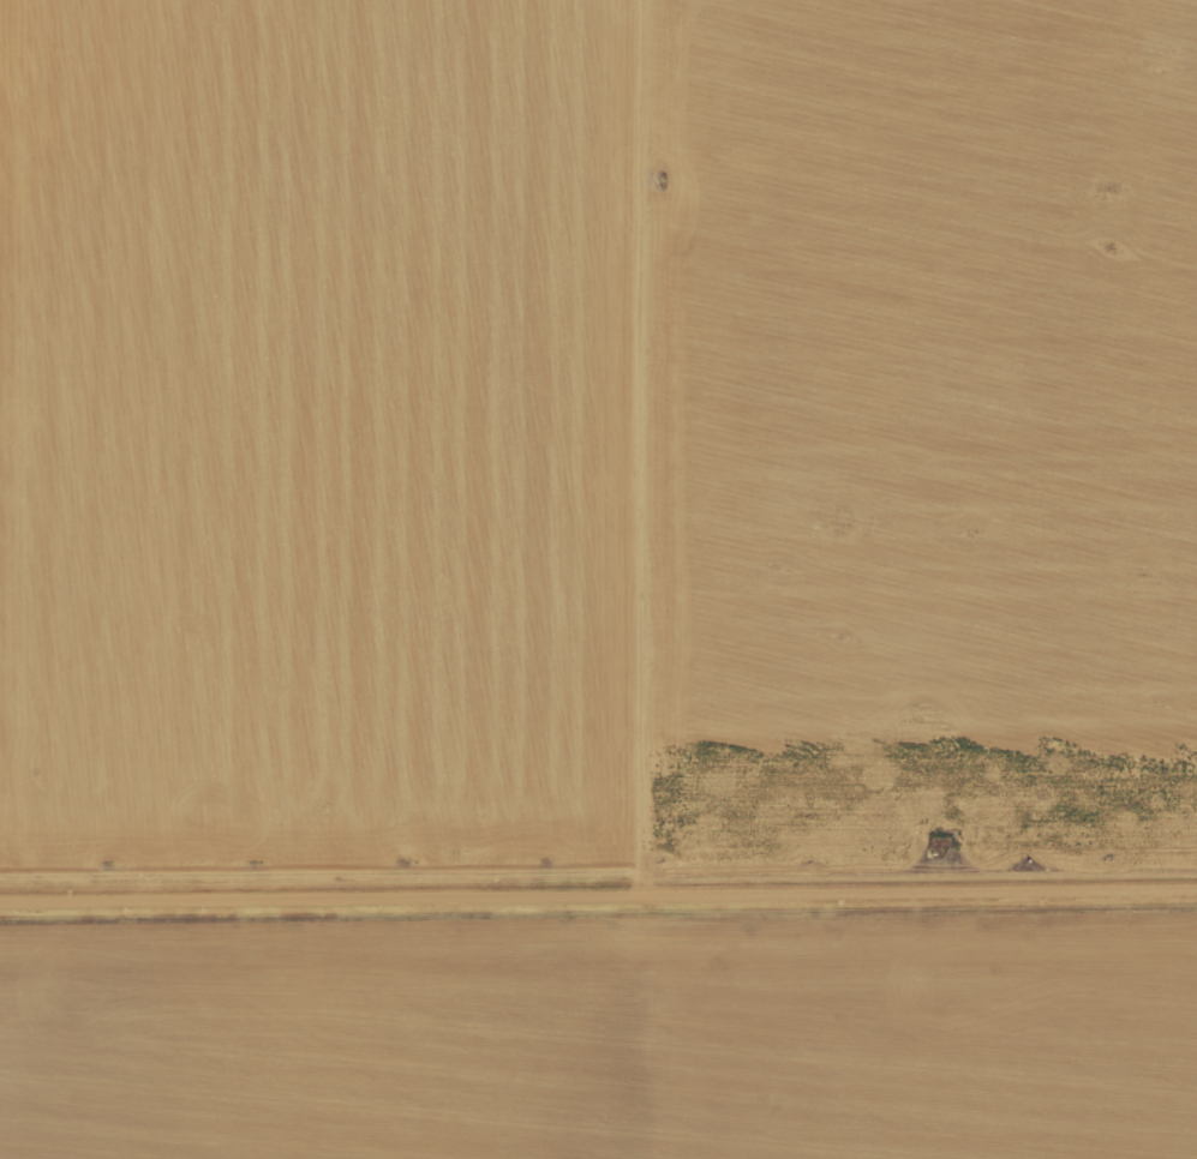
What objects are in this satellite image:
road: (598, 899)

